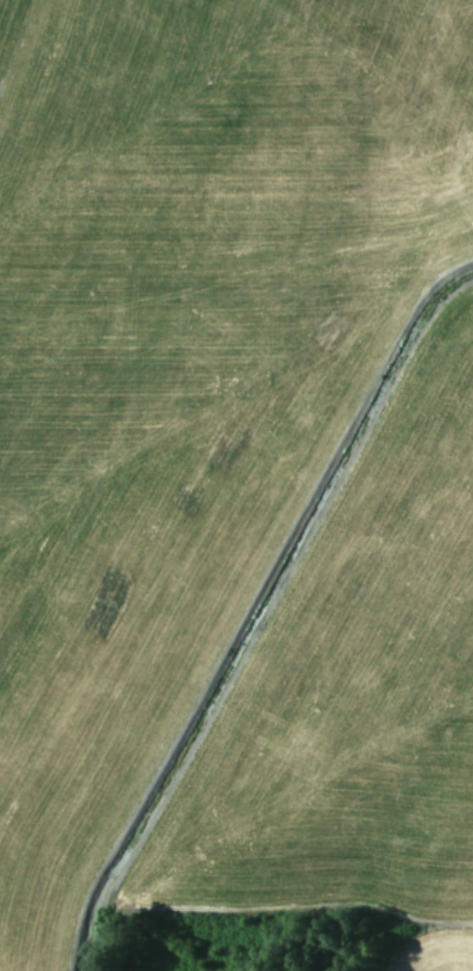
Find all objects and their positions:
crop: (236, 485)

